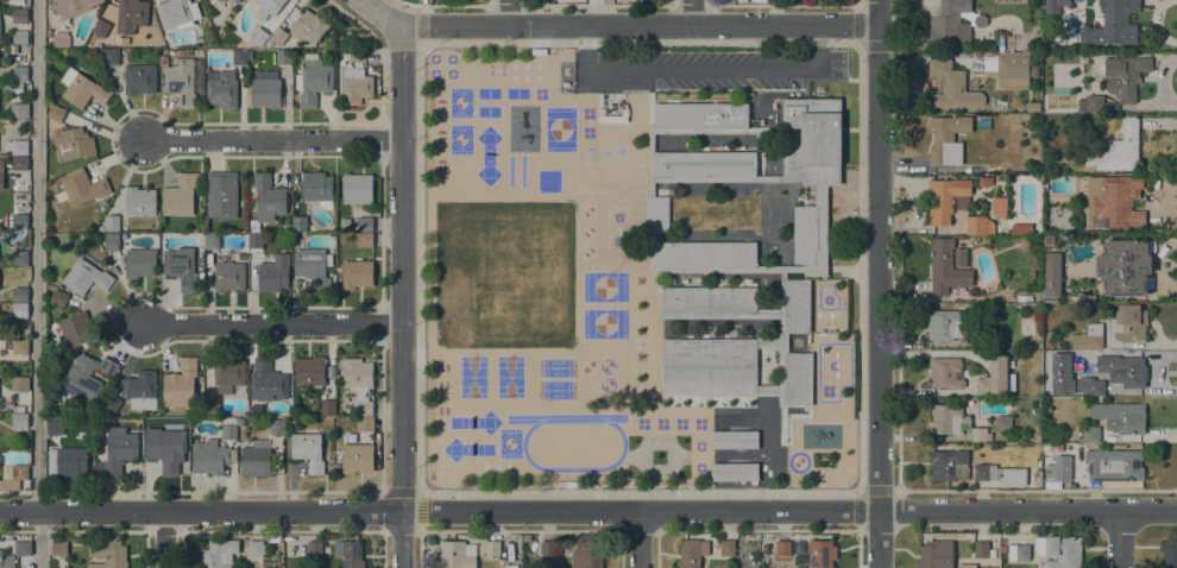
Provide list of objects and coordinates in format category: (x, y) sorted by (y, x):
building: (220, 1)
building: (234, 1)
building: (1053, 6)
building: (74, 7)
building: (266, 7)
building: (176, 13)
road: (376, 13)
road: (509, 13)
road: (692, 13)
building: (0, 14)
building: (19, 15)
building: (131, 15)
building: (952, 23)
building: (1112, 24)
building: (309, 26)
building: (101, 27)
road: (635, 27)
building: (258, 36)
building: (19, 37)
building: (277, 37)
building: (61, 39)
building: (1002, 43)
building: (1047, 46)
building: (109, 56)
building: (283, 56)
building: (357, 56)
building: (239, 57)
building: (163, 61)
building: (1012, 67)
parking lot: (715, 70)
building: (1034, 70)
building: (19, 74)
building: (1123, 76)
building: (139, 78)
building: (313, 80)
building: (180, 81)
building: (355, 86)
building: (951, 86)
building: (82, 89)
building: (221, 89)
building: (265, 91)
building: (598, 97)
building: (1093, 103)
building: (19, 111)
building: (55, 113)
building: (700, 115)
road: (850, 128)
road: (273, 139)
building: (946, 139)
building: (71, 143)
building: (19, 147)
building: (1118, 149)
road: (649, 154)
building: (19, 163)
building: (810, 163)
building: (650, 164)
building: (704, 164)
building: (1, 173)
building: (983, 181)
building: (81, 188)
building: (316, 188)
building: (357, 188)
building: (221, 194)
building: (180, 195)
building: (267, 198)
building: (946, 198)
building: (139, 201)
building: (1113, 202)
building: (999, 207)
building: (656, 214)
building: (19, 221)
building: (112, 223)
building: (300, 223)
building: (364, 225)
building: (978, 225)
building: (287, 227)
building: (1037, 227)
building: (1020, 228)
building: (210, 240)
building: (364, 240)
building: (256, 241)
building: (111, 242)
building: (1024, 242)
building: (705, 254)
building: (959, 257)
building: (19, 258)
building: (139, 263)
building: (181, 267)
building: (313, 267)
building: (945, 267)
building: (1123, 267)
road: (744, 270)
building: (273, 273)
building: (357, 273)
building: (1051, 273)
park: (503, 274)
building: (228, 276)
building: (86, 277)
road: (876, 283)
road: (37, 284)
building: (782, 294)
building: (19, 295)
road: (399, 297)
building: (58, 298)
building: (1024, 298)
building: (707, 299)
building: (797, 305)
building: (19, 310)
building: (1128, 322)
building: (949, 323)
road: (272, 324)
building: (76, 329)
building: (1088, 336)
building: (978, 341)
building: (6, 342)
building: (19, 347)
building: (709, 366)
building: (309, 371)
building: (1129, 372)
building: (227, 373)
building: (945, 373)
building: (994, 375)
building: (86, 378)
building: (798, 379)
building: (181, 381)
building: (266, 381)
building: (359, 383)
building: (19, 384)
building: (1089, 385)
building: (141, 390)
building: (111, 404)
building: (212, 408)
building: (328, 408)
building: (18, 409)
building: (1121, 416)
building: (948, 418)
building: (19, 421)
building: (364, 424)
building: (276, 427)
building: (55, 428)
building: (229, 428)
building: (977, 434)
building: (1090, 434)
building: (734, 440)
building: (119, 449)
building: (162, 450)
building: (308, 450)
building: (212, 457)
building: (357, 457)
building: (256, 459)
building: (67, 461)
building: (949, 465)
building: (1114, 465)
building: (1058, 468)
building: (15, 472)
building: (734, 472)
building: (1000, 474)
building: (1037, 478)
road: (858, 492)
road: (18, 493)
road: (418, 511)
road: (587, 511)
road: (19, 532)
building: (525, 537)
building: (751, 537)
road: (1119, 538)
road: (163, 539)
road: (638, 539)
building: (726, 547)
building: (23, 548)
building: (59, 548)
building: (256, 548)
building: (548, 548)
building: (782, 548)
building: (1002, 548)
building: (314, 549)
building: (982, 549)
building: (497, 550)
building: (1059, 550)
building: (692, 553)
building: (1018, 553)
building: (1169, 553)
building: (107, 554)
building: (219, 554)
building: (348, 554)
building: (820, 554)
building: (936, 554)
building: (458, 555)
building: (587, 555)
building: (1, 557)
building: (801, 566)
building: (967, 566)

